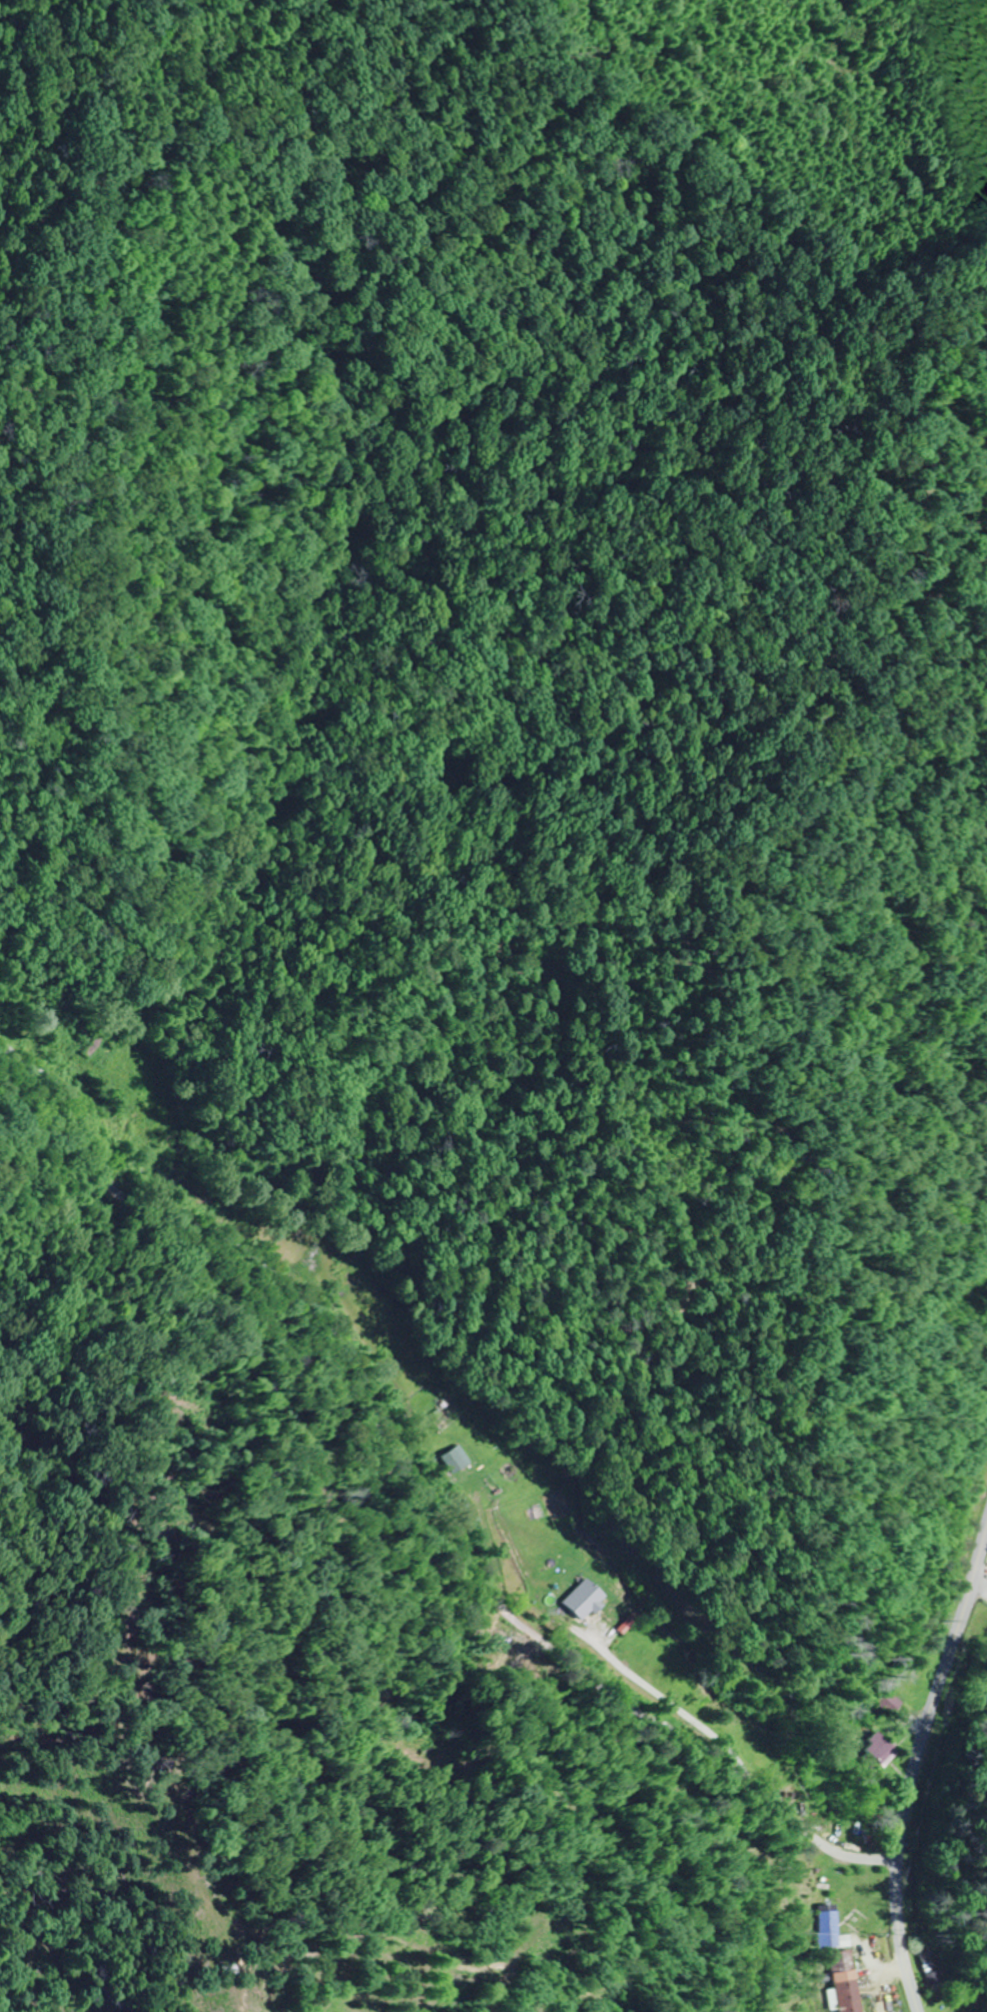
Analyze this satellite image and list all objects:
building: (458, 1460)
road: (444, 1467)
building: (586, 1597)
building: (985, 1684)
building: (879, 1748)
road: (915, 1760)
building: (831, 1924)
building: (229, 1972)
building: (847, 1982)

